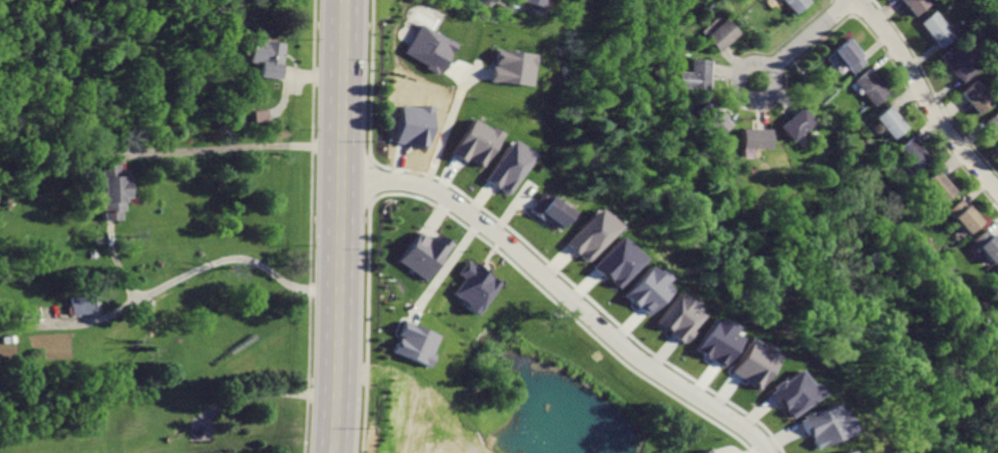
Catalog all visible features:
building: (528, 2)
road: (488, 3)
building: (795, 5)
road: (844, 5)
building: (916, 5)
road: (849, 11)
building: (938, 29)
road: (808, 32)
building: (721, 35)
building: (428, 47)
building: (266, 57)
building: (848, 57)
building: (959, 63)
building: (508, 66)
road: (310, 75)
building: (694, 76)
road: (367, 85)
road: (741, 87)
building: (870, 88)
road: (933, 88)
road: (926, 96)
building: (978, 97)
road: (734, 100)
road: (920, 112)
building: (259, 115)
building: (711, 119)
building: (890, 122)
building: (794, 123)
building: (994, 123)
road: (445, 129)
building: (753, 137)
building: (474, 142)
road: (221, 146)
building: (913, 154)
building: (507, 166)
road: (365, 186)
building: (937, 186)
building: (113, 189)
building: (541, 206)
building: (963, 217)
road: (308, 226)
road: (336, 226)
building: (590, 234)
building: (986, 246)
building: (421, 254)
building: (615, 261)
road: (447, 267)
road: (192, 275)
building: (995, 275)
building: (464, 282)
building: (645, 289)
road: (560, 292)
building: (86, 304)
building: (678, 317)
road: (74, 320)
road: (360, 327)
building: (715, 341)
building: (413, 342)
building: (751, 363)
building: (781, 388)
road: (256, 396)
building: (820, 424)
building: (697, 451)
building: (705, 451)
building: (833, 451)
building: (841, 451)
building: (217, 452)

